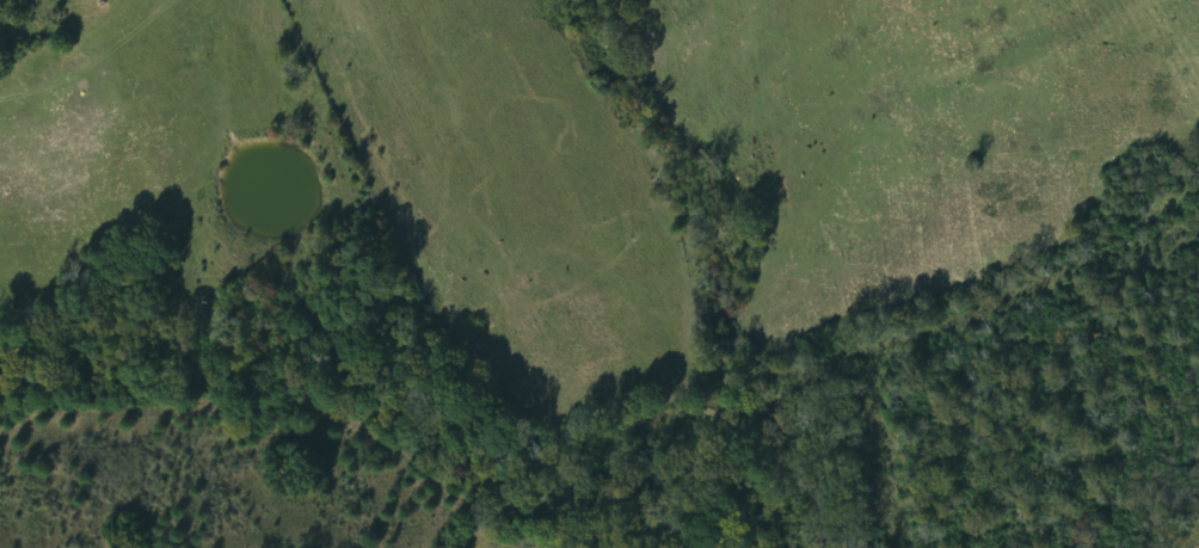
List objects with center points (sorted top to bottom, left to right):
road: (85, 59)

